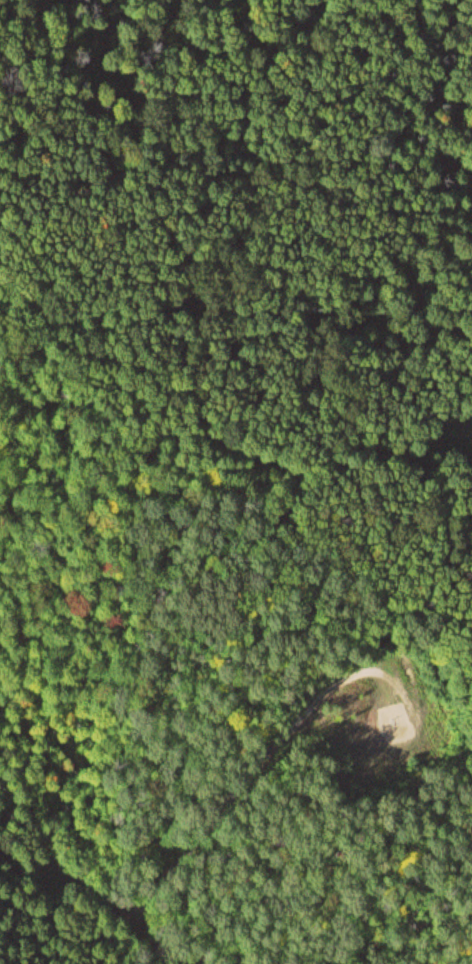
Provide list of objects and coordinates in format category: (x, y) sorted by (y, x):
road: (81, 882)

